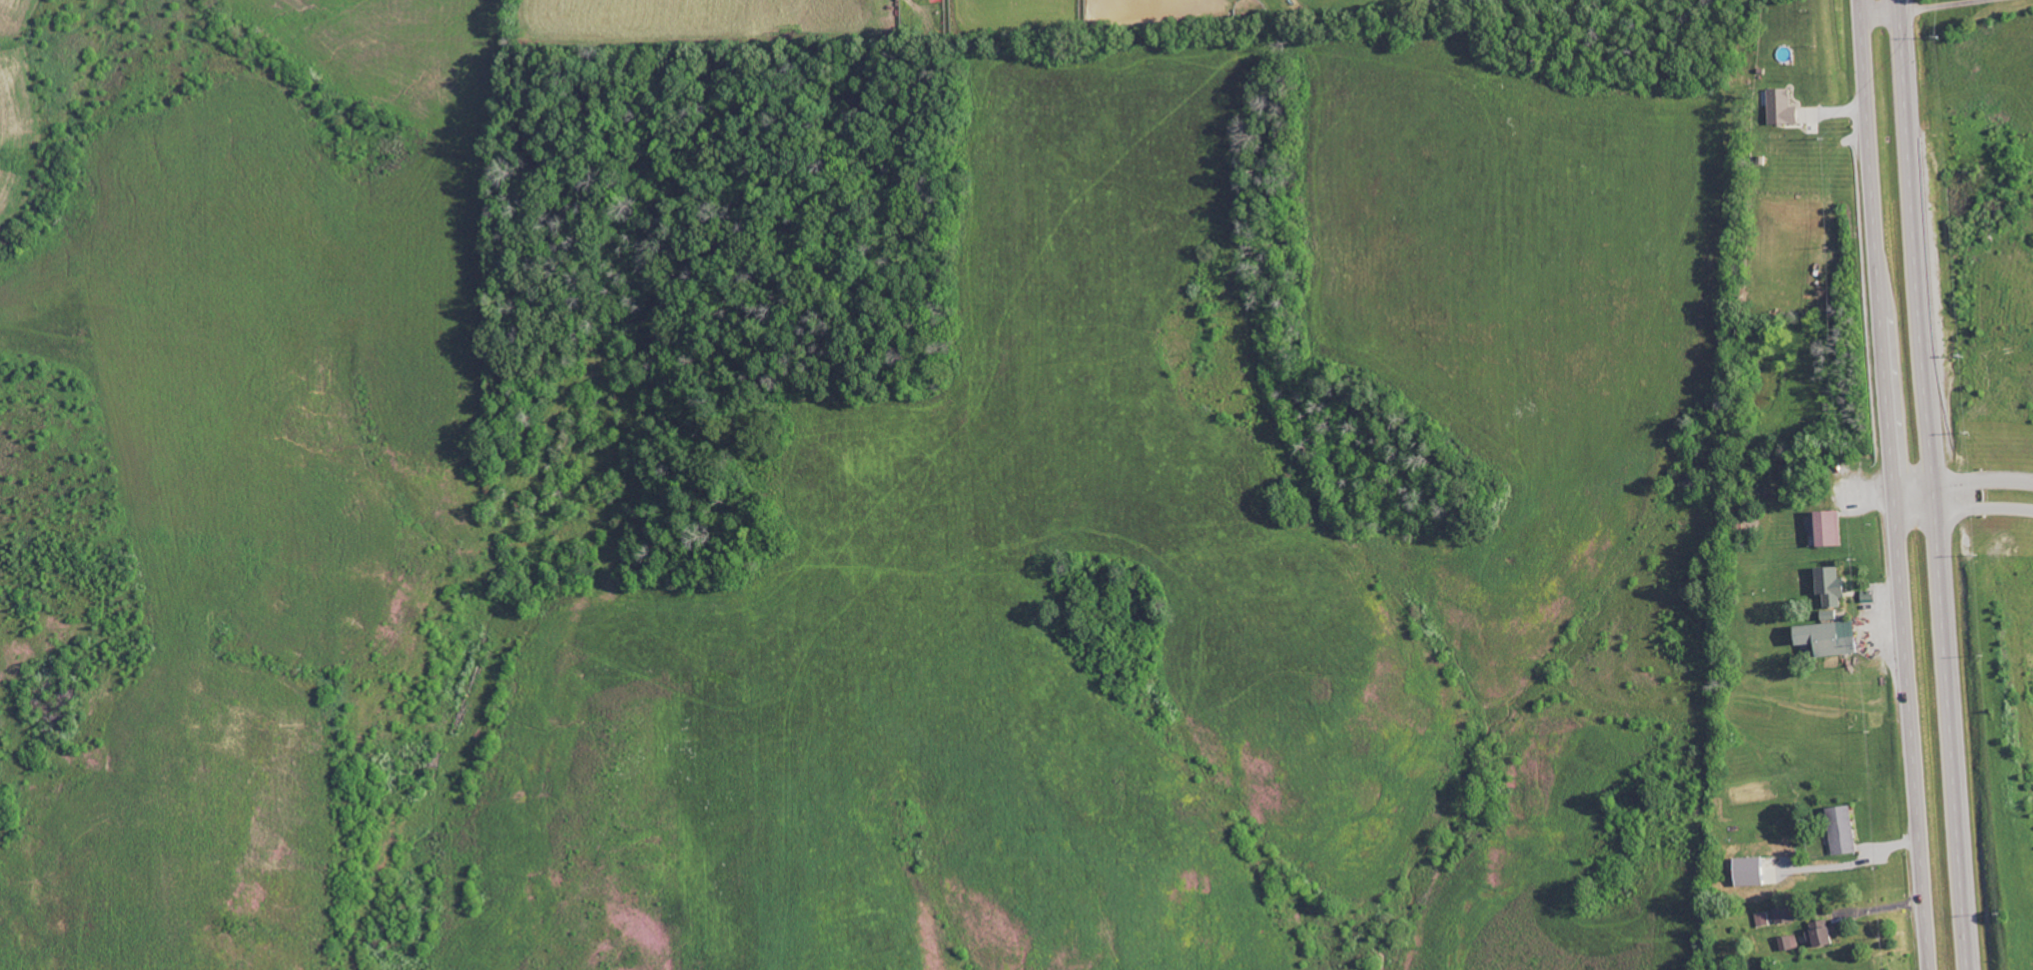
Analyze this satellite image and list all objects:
building: (1779, 107)
road: (1982, 479)
road: (1893, 484)
road: (1931, 484)
road: (1983, 508)
building: (1825, 528)
building: (1827, 585)
building: (1826, 615)
building: (1822, 637)
building: (1838, 830)
building: (1747, 871)
building: (1781, 915)
building: (1818, 933)
building: (1787, 942)

